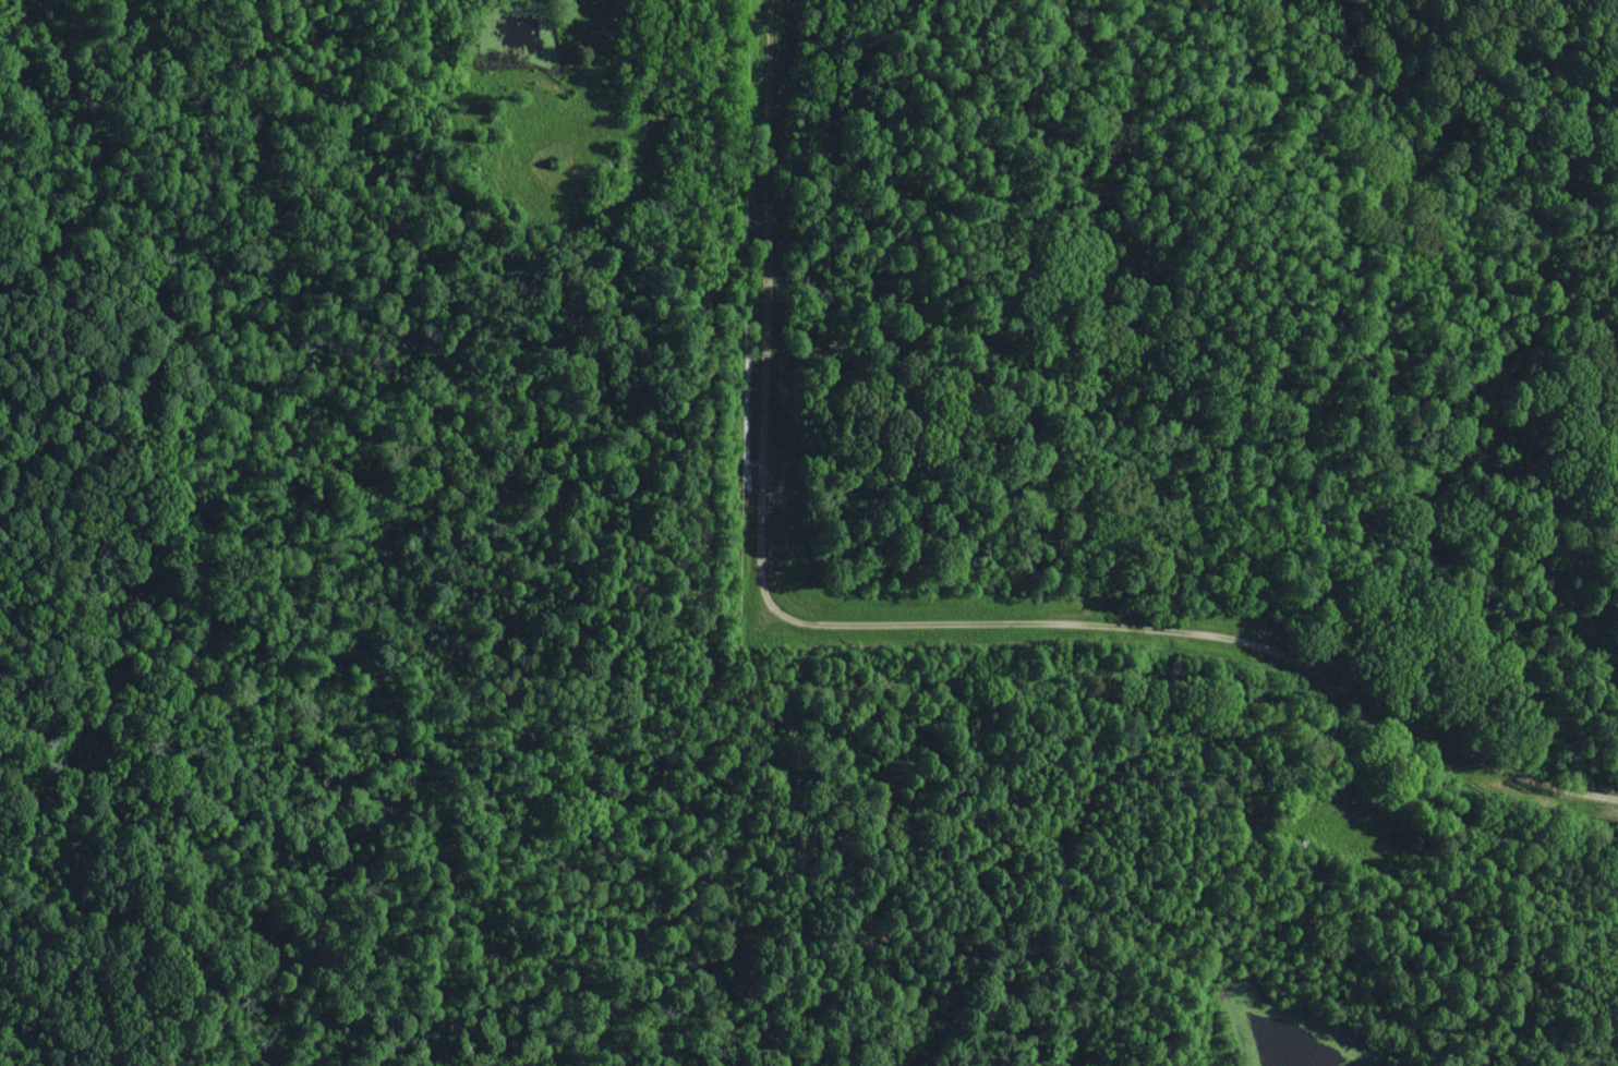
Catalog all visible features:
road: (903, 626)

